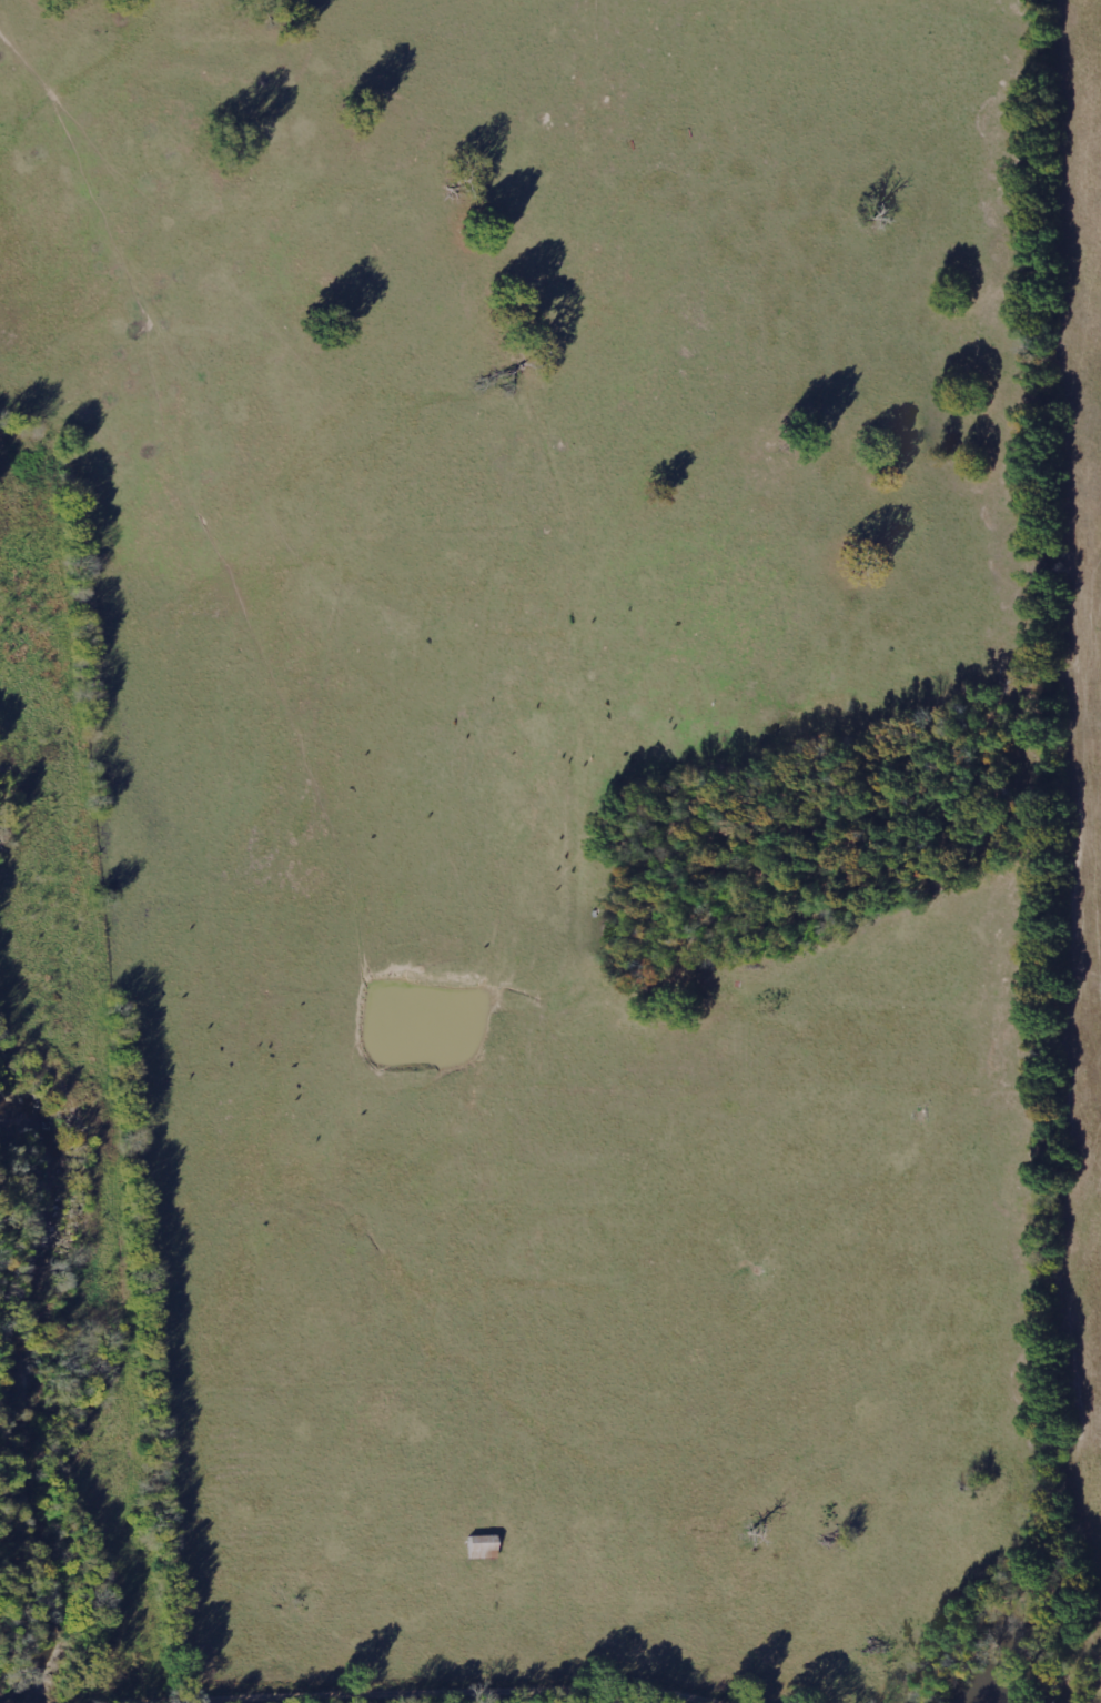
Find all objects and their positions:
road: (477, 1696)

